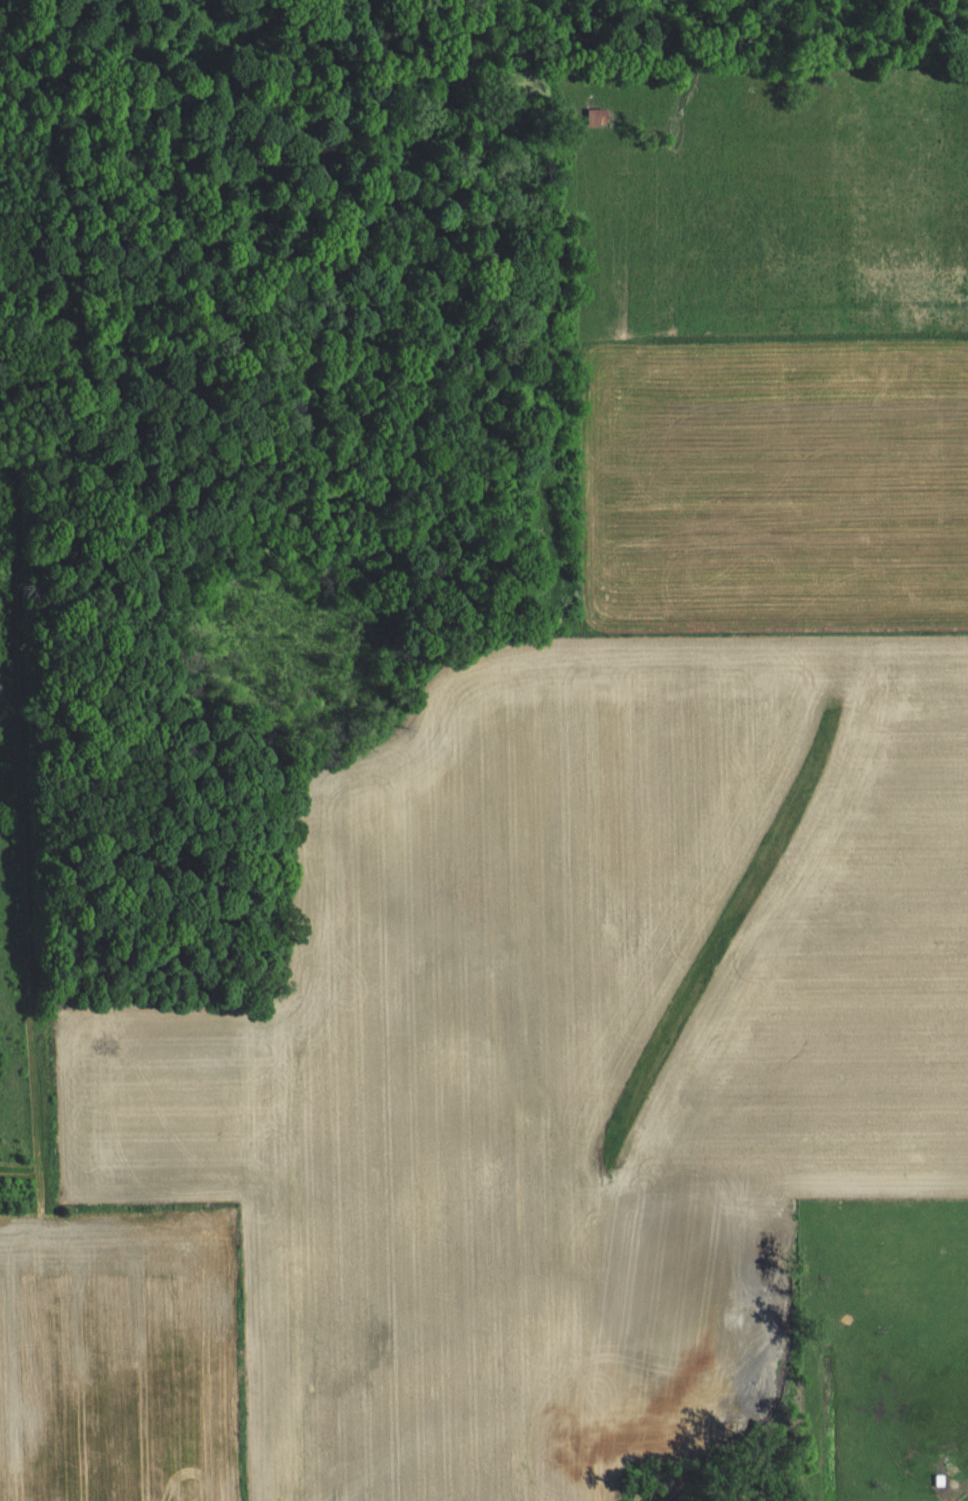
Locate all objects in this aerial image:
building: (600, 117)

